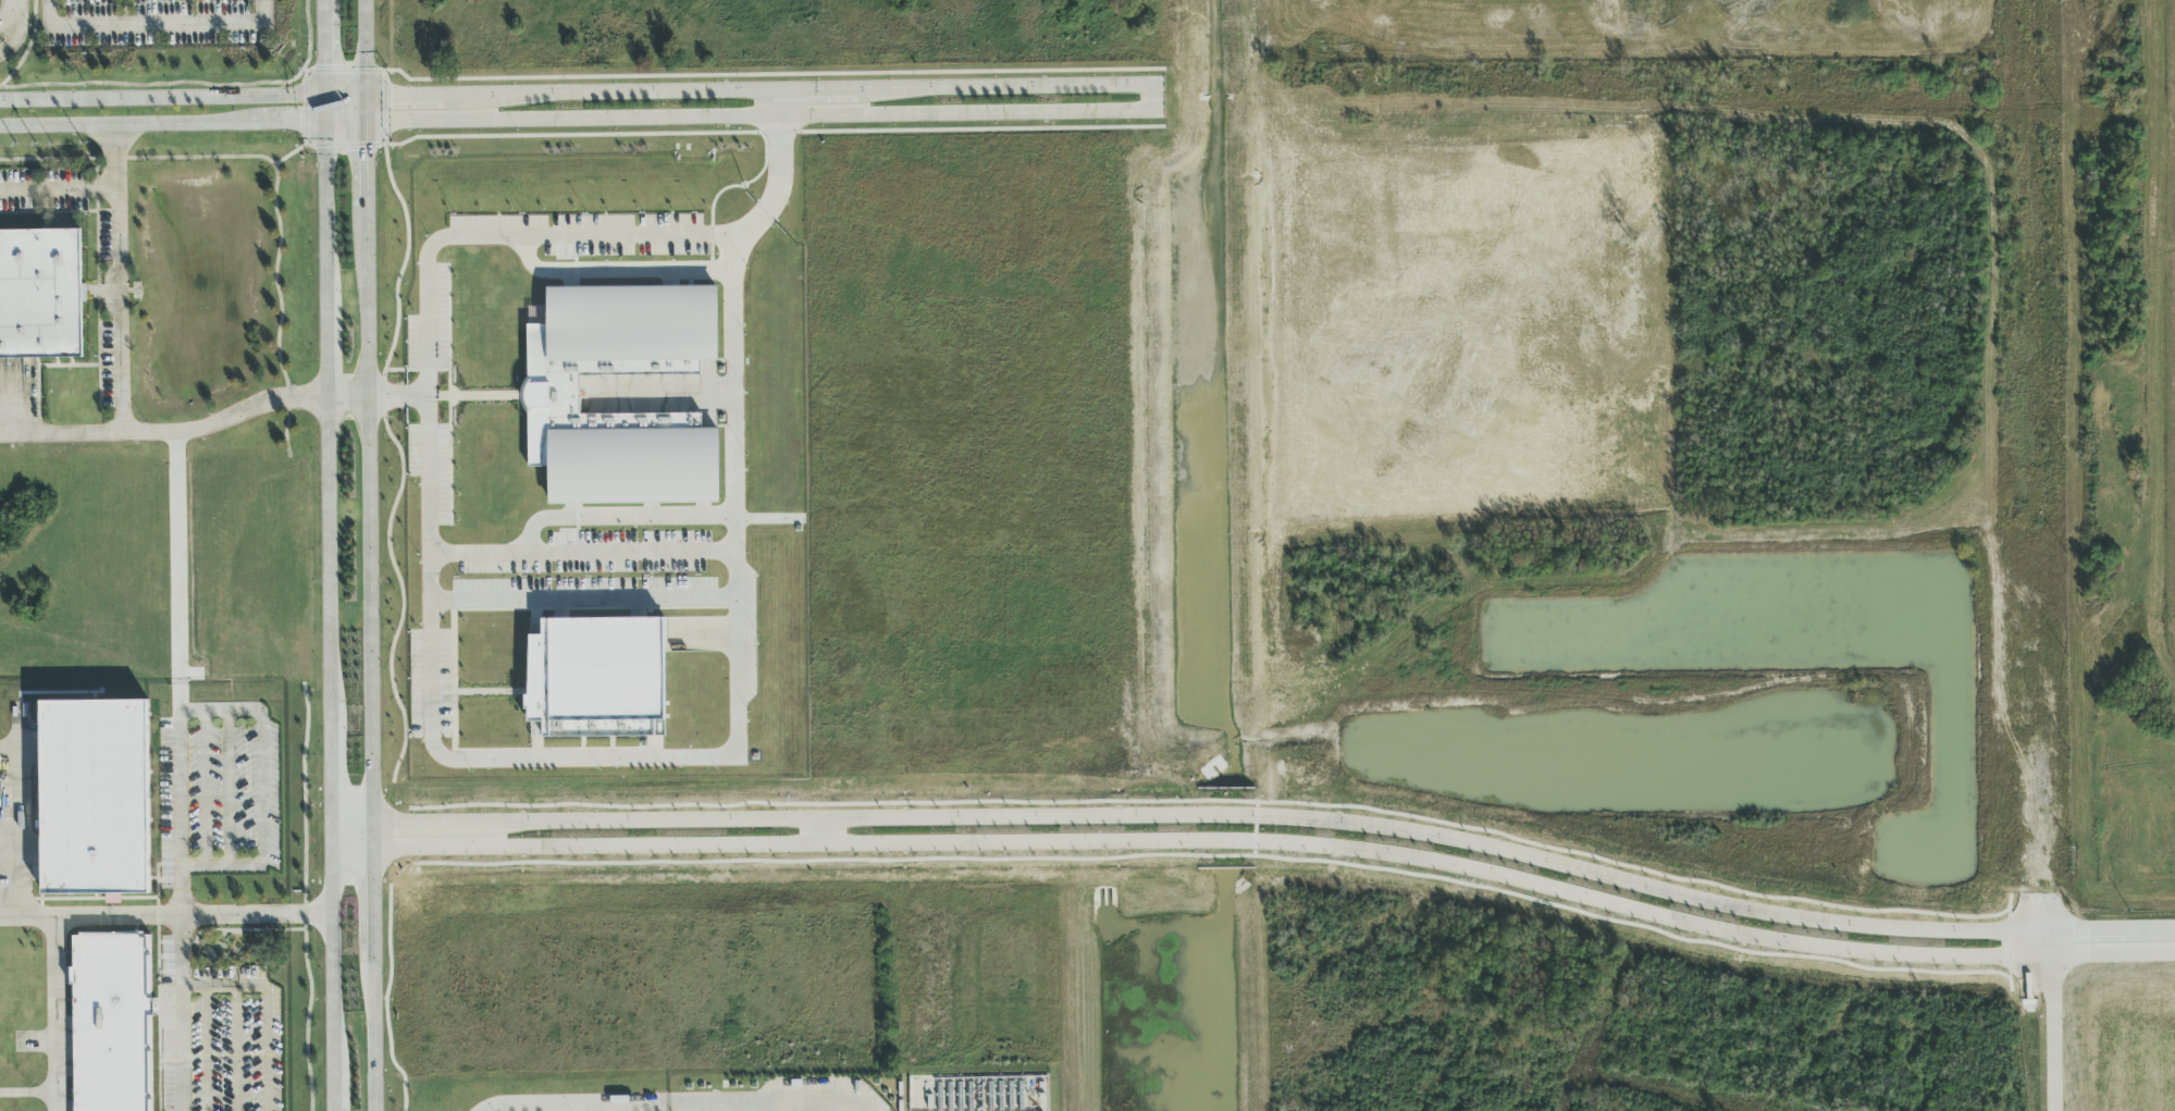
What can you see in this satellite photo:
road: (322, 4)
road: (262, 12)
road: (12, 13)
road: (141, 25)
road: (12, 37)
road: (28, 48)
road: (363, 61)
road: (323, 65)
road: (191, 84)
road: (313, 86)
road: (583, 92)
road: (1169, 100)
road: (779, 104)
road: (584, 120)
road: (366, 168)
road: (59, 190)
road: (776, 193)
road: (324, 203)
road: (120, 281)
building: (40, 294)
road: (326, 340)
road: (346, 395)
building: (553, 395)
road: (11, 399)
road: (166, 435)
road: (367, 520)
road: (329, 553)
road: (582, 561)
road: (175, 575)
road: (583, 610)
road: (738, 640)
building: (597, 678)
road: (331, 775)
road: (203, 789)
road: (228, 789)
road: (262, 792)
building: (95, 798)
road: (21, 810)
road: (1277, 818)
road: (823, 832)
road: (350, 834)
road: (370, 838)
road: (1277, 841)
road: (350, 843)
road: (222, 867)
road: (182, 869)
road: (370, 904)
road: (164, 916)
road: (330, 951)
road: (224, 985)
road: (57, 1014)
road: (2053, 1021)
building: (112, 1023)
road: (371, 1036)
road: (206, 1048)
road: (237, 1048)
road: (265, 1048)
road: (332, 1087)
road: (28, 1094)
road: (647, 1102)

